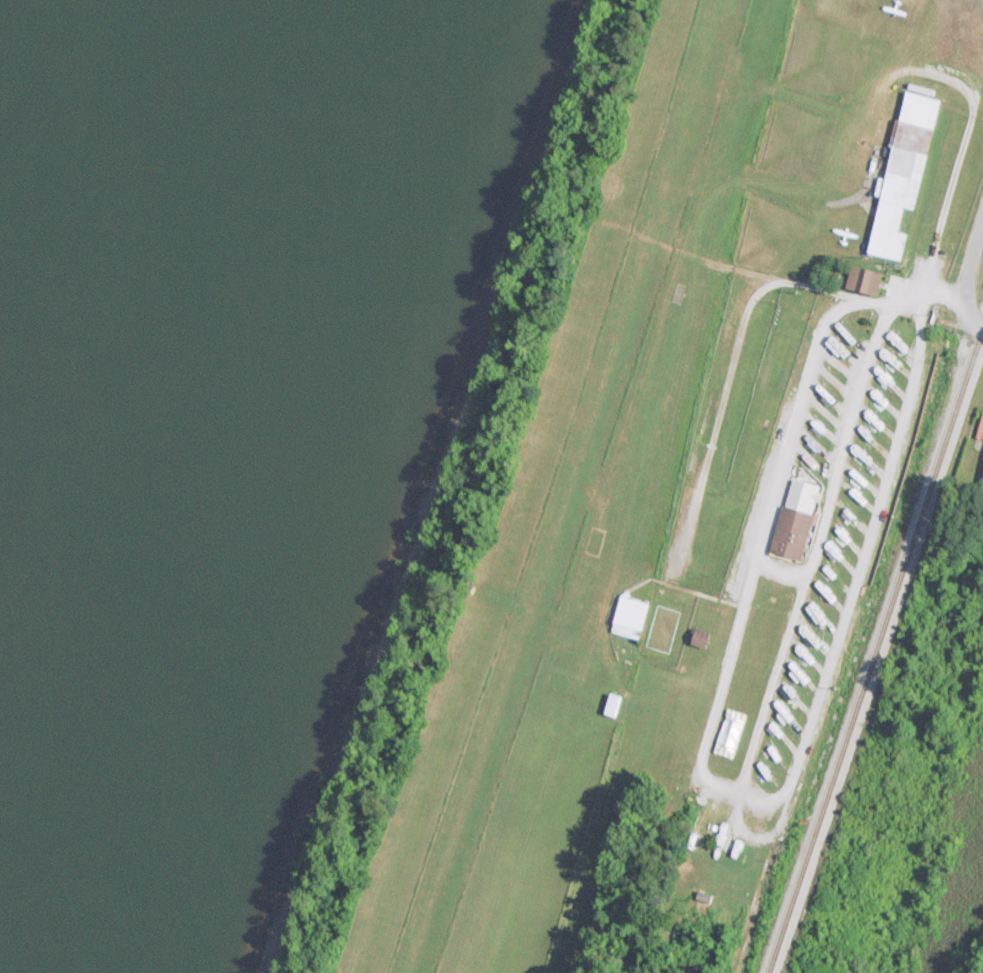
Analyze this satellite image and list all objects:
road: (973, 260)
river: (93, 271)
road: (924, 292)
road: (967, 314)
airport runway: (556, 486)
building: (632, 613)
railway: (868, 650)

